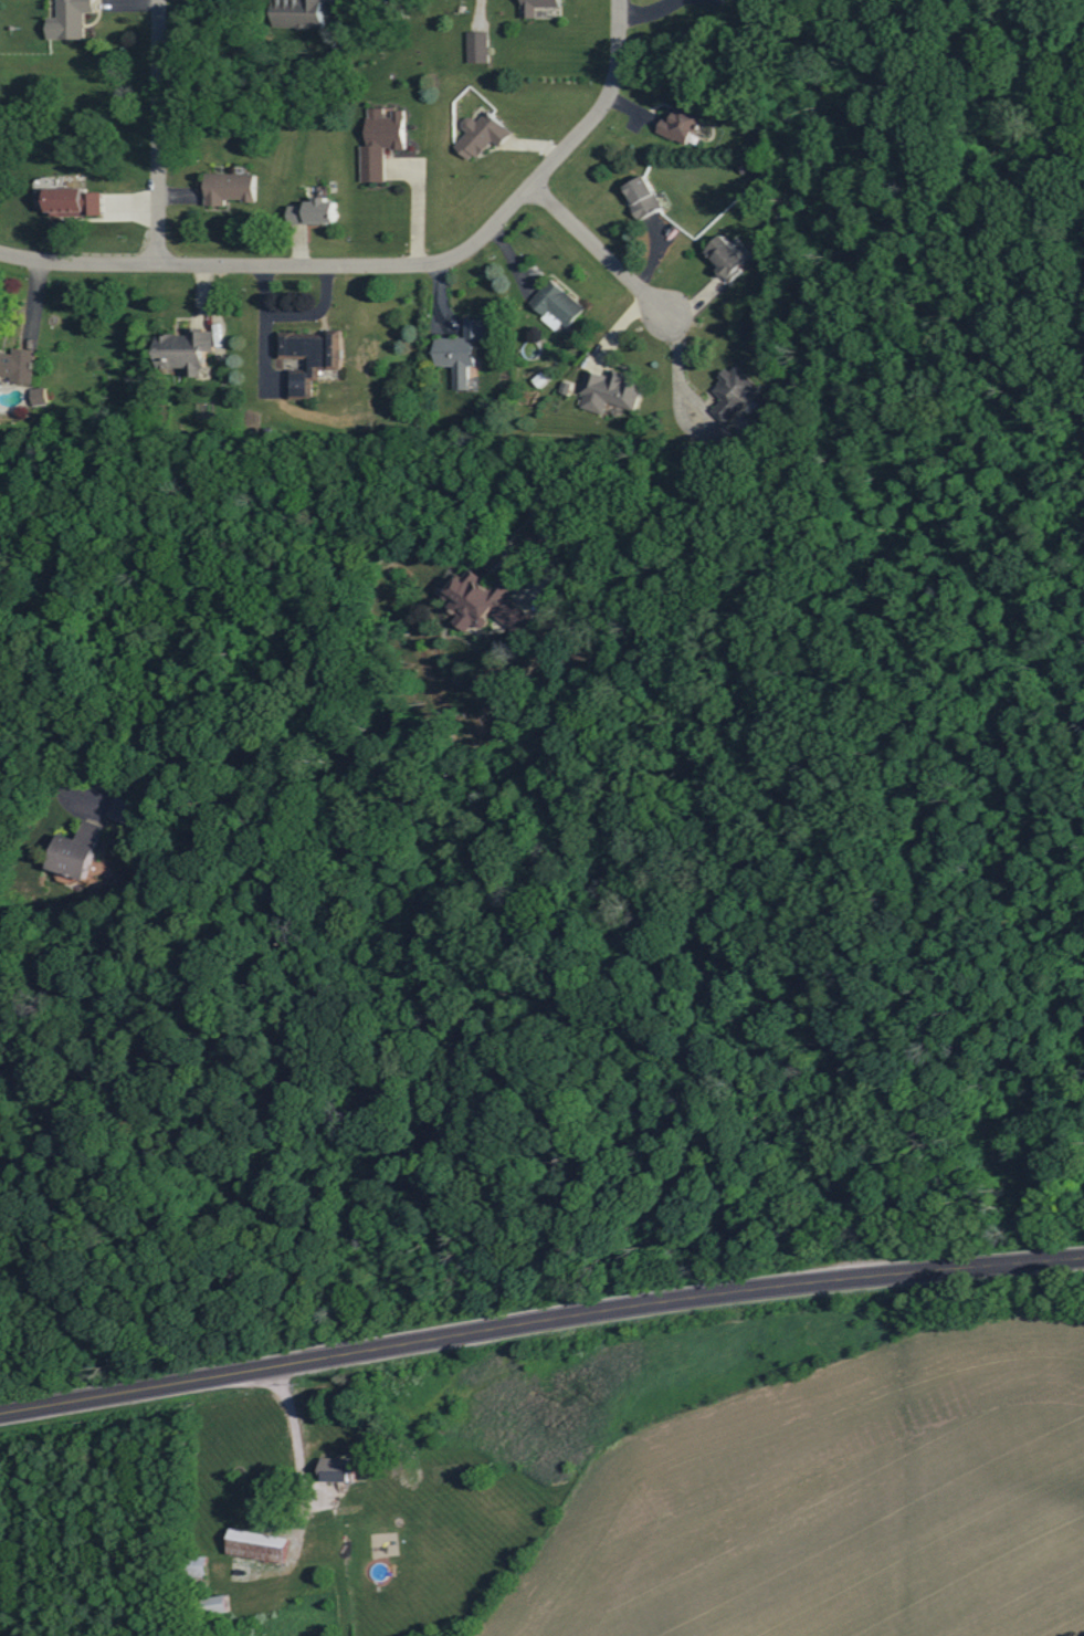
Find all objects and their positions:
building: (529, 12)
building: (301, 13)
building: (71, 20)
building: (480, 48)
building: (683, 122)
building: (482, 135)
road: (152, 136)
building: (382, 141)
building: (231, 188)
building: (645, 199)
building: (72, 201)
building: (316, 212)
road: (461, 256)
road: (592, 258)
building: (730, 258)
road: (74, 271)
building: (558, 303)
building: (187, 350)
building: (463, 352)
building: (311, 357)
building: (19, 365)
building: (611, 391)
building: (735, 394)
building: (40, 396)
road: (260, 531)
building: (488, 604)
road: (70, 703)
building: (126, 809)
building: (78, 850)
road: (539, 1292)
road: (298, 1405)
building: (339, 1469)
building: (260, 1546)
building: (200, 1565)
building: (222, 1604)

